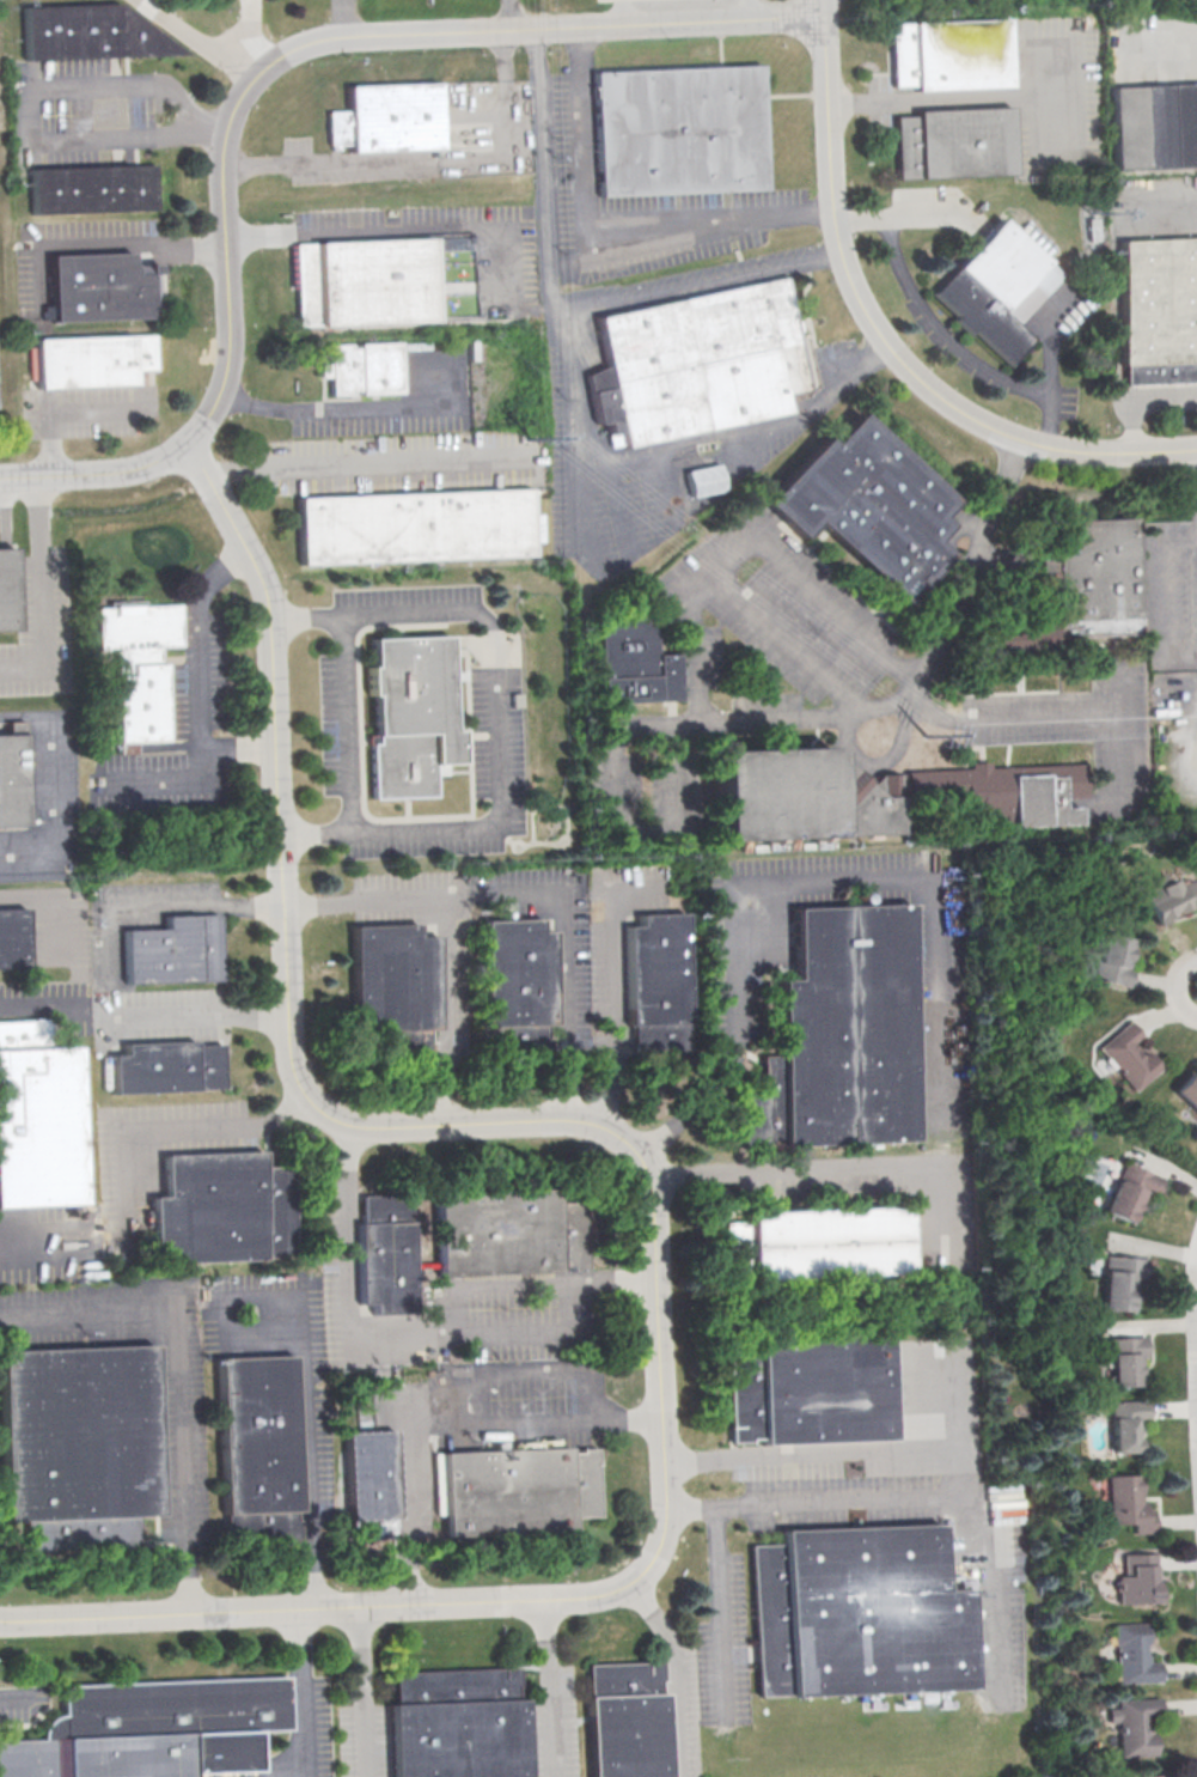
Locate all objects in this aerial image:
parking lot: (613, 0)
road: (747, 8)
road: (625, 11)
road: (509, 14)
road: (250, 18)
road: (341, 18)
building: (92, 32)
road: (195, 37)
road: (1158, 50)
road: (256, 54)
building: (949, 55)
road: (255, 78)
road: (971, 98)
road: (32, 116)
building: (390, 120)
road: (508, 127)
building: (1154, 127)
building: (679, 132)
road: (1051, 133)
building: (954, 144)
road: (329, 163)
building: (93, 189)
road: (916, 217)
road: (392, 230)
road: (606, 241)
road: (136, 245)
building: (365, 282)
road: (697, 285)
building: (104, 287)
building: (995, 291)
building: (1159, 312)
road: (921, 317)
road: (884, 336)
road: (1043, 358)
building: (93, 360)
building: (697, 364)
building: (362, 369)
road: (1136, 397)
road: (576, 401)
road: (352, 408)
road: (62, 413)
power tower: (529, 420)
road: (358, 463)
road: (670, 486)
building: (863, 506)
road: (619, 507)
road: (575, 509)
building: (416, 528)
building: (1091, 577)
road: (37, 590)
building: (6, 591)
road: (782, 646)
building: (636, 665)
building: (140, 669)
road: (196, 680)
building: (408, 717)
road: (494, 718)
road: (1008, 719)
road: (732, 723)
road: (346, 725)
road: (1117, 734)
power tower: (872, 740)
road: (880, 763)
building: (11, 783)
road: (166, 784)
building: (792, 792)
building: (963, 792)
road: (59, 793)
building: (1040, 799)
road: (617, 815)
road: (782, 891)
building: (1167, 897)
road: (48, 901)
road: (158, 908)
road: (440, 936)
building: (12, 939)
road: (562, 942)
building: (172, 951)
building: (1112, 960)
building: (658, 985)
building: (520, 986)
building: (393, 992)
road: (616, 992)
road: (38, 1005)
road: (202, 1017)
building: (836, 1037)
building: (1128, 1055)
building: (165, 1067)
building: (1187, 1090)
building: (39, 1126)
road: (157, 1133)
road: (819, 1169)
road: (647, 1175)
building: (1129, 1189)
building: (221, 1210)
building: (512, 1234)
building: (819, 1244)
road: (38, 1252)
building: (390, 1256)
building: (1118, 1282)
road: (423, 1329)
building: (1123, 1359)
road: (301, 1361)
road: (175, 1376)
building: (812, 1389)
road: (444, 1417)
building: (1123, 1423)
building: (78, 1447)
building: (259, 1450)
road: (804, 1453)
building: (372, 1485)
building: (518, 1491)
road: (877, 1497)
building: (1125, 1502)
building: (1135, 1577)
road: (993, 1578)
road: (719, 1609)
building: (860, 1615)
building: (1131, 1654)
road: (674, 1673)
road: (545, 1688)
road: (361, 1691)
road: (303, 1692)
road: (23, 1694)
building: (625, 1720)
building: (458, 1723)
building: (1134, 1724)
building: (154, 1730)
building: (1150, 1776)

